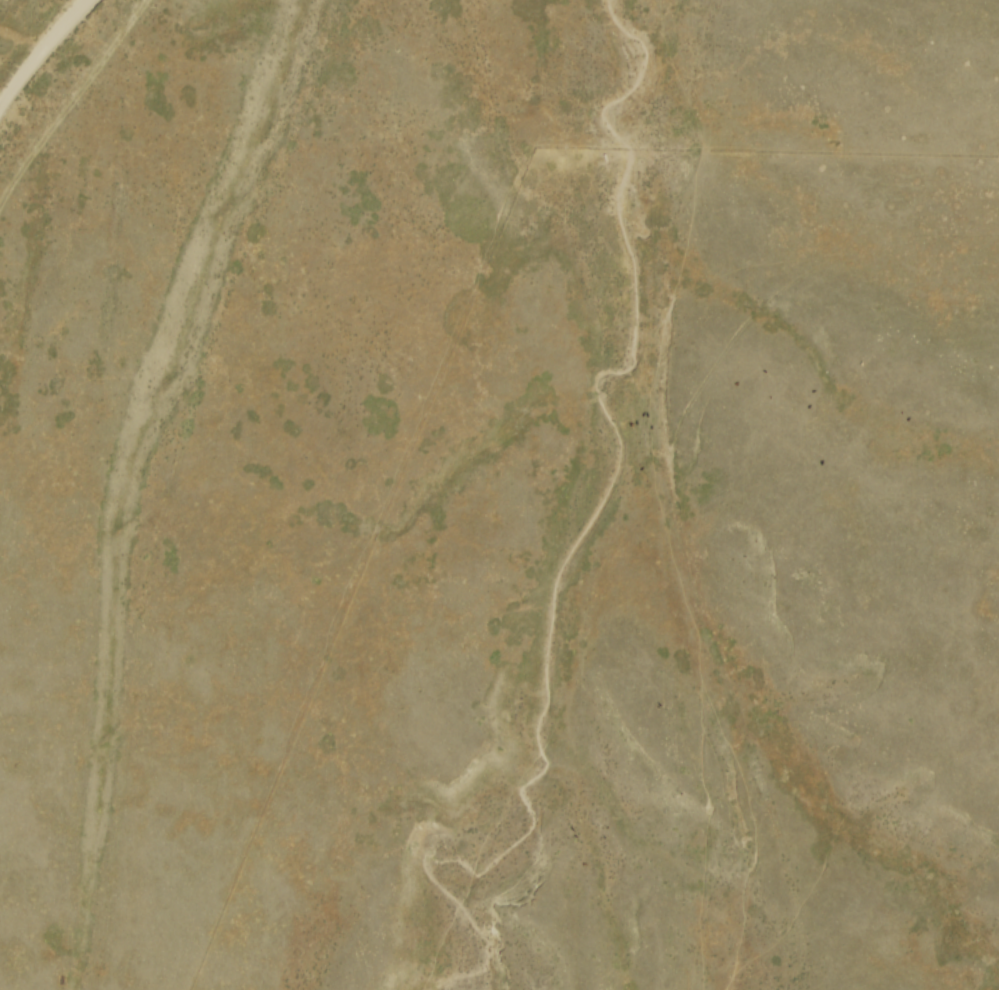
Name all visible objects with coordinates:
road: (39, 49)

